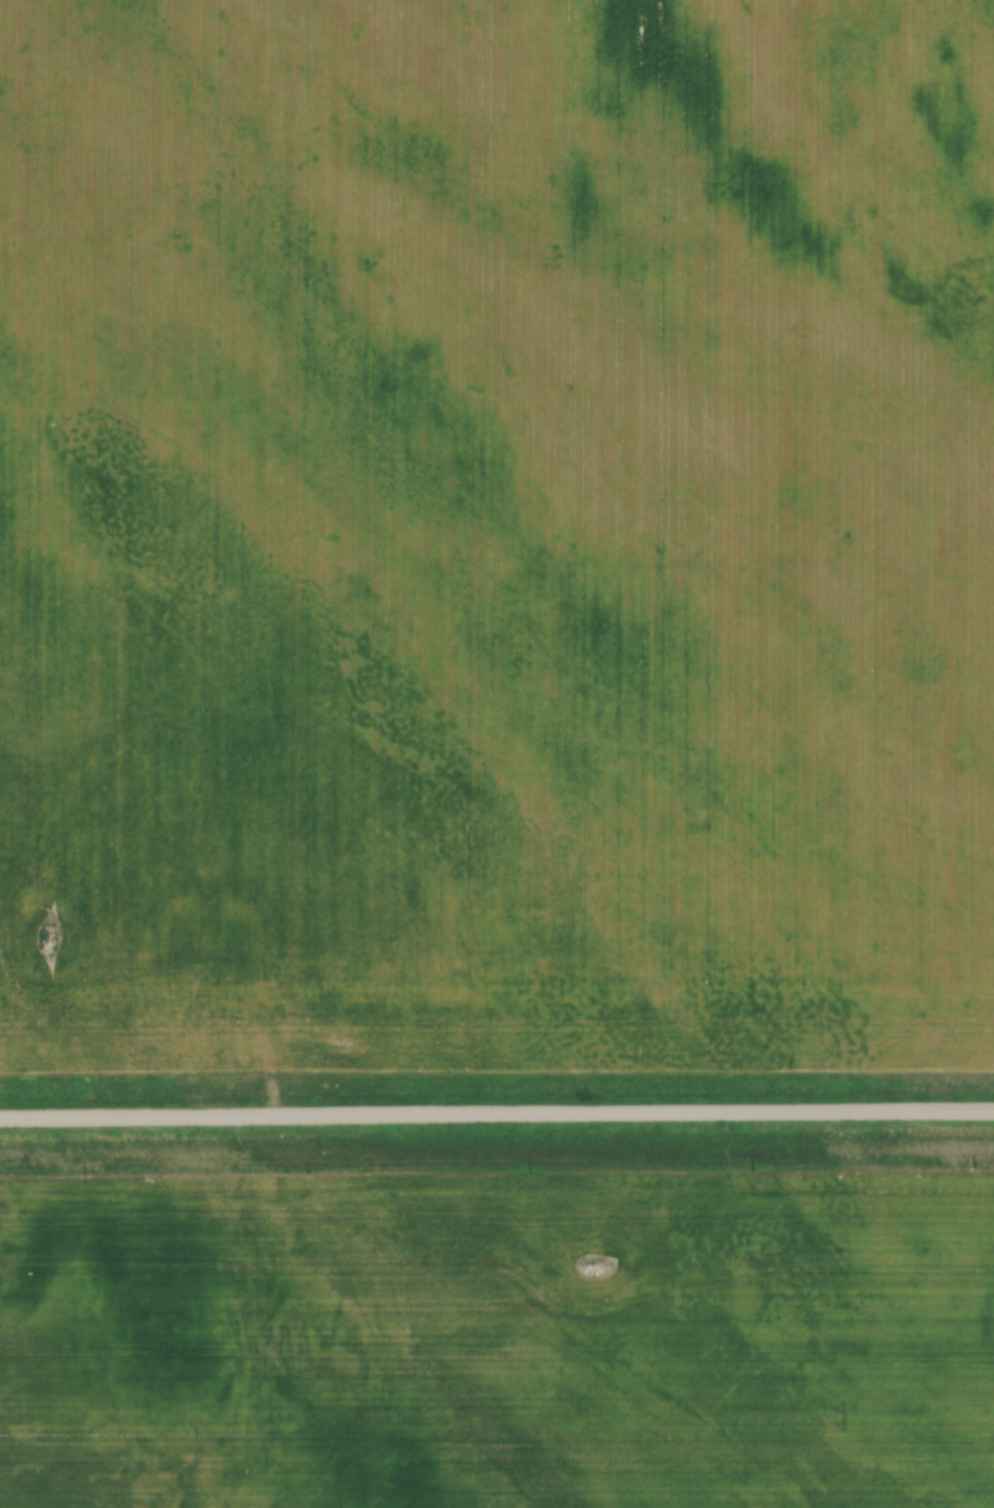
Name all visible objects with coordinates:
road: (497, 1116)

